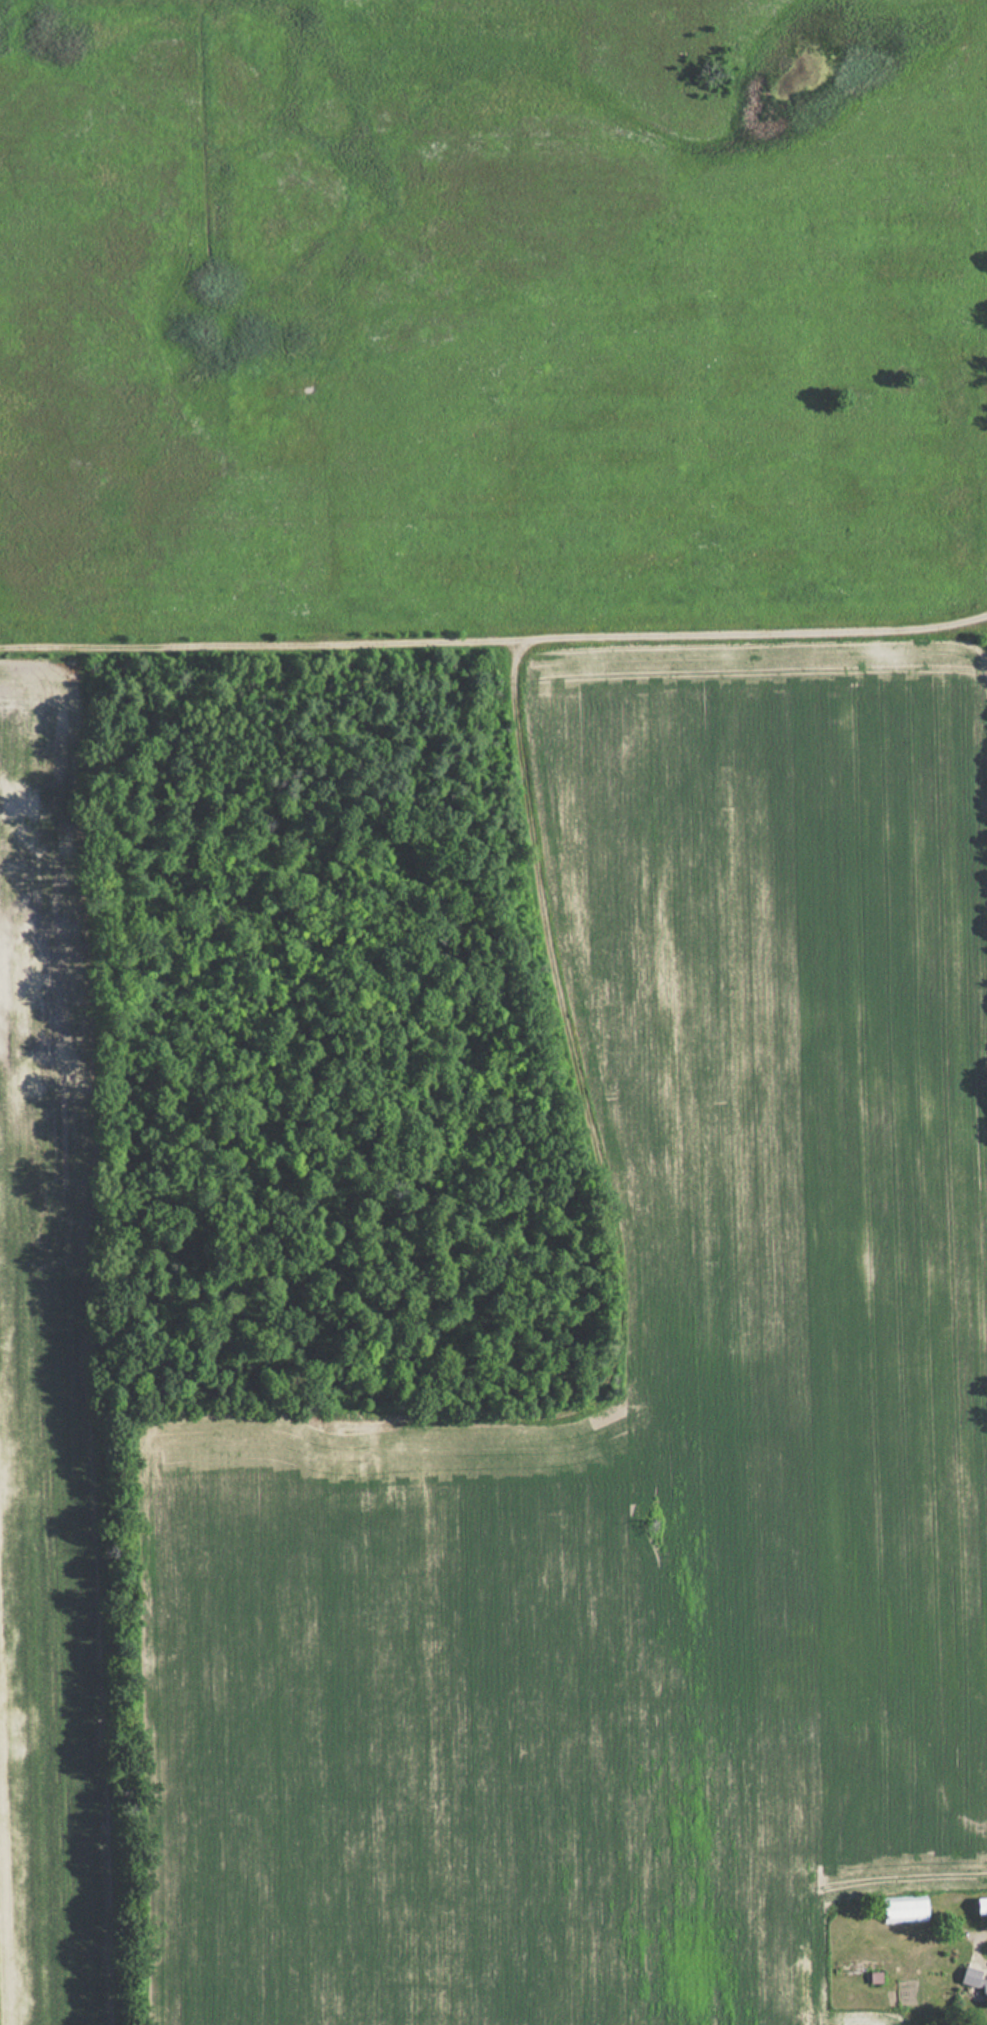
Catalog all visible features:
road: (493, 637)
road: (597, 1131)
building: (979, 1904)
building: (901, 1908)
building: (974, 1981)

